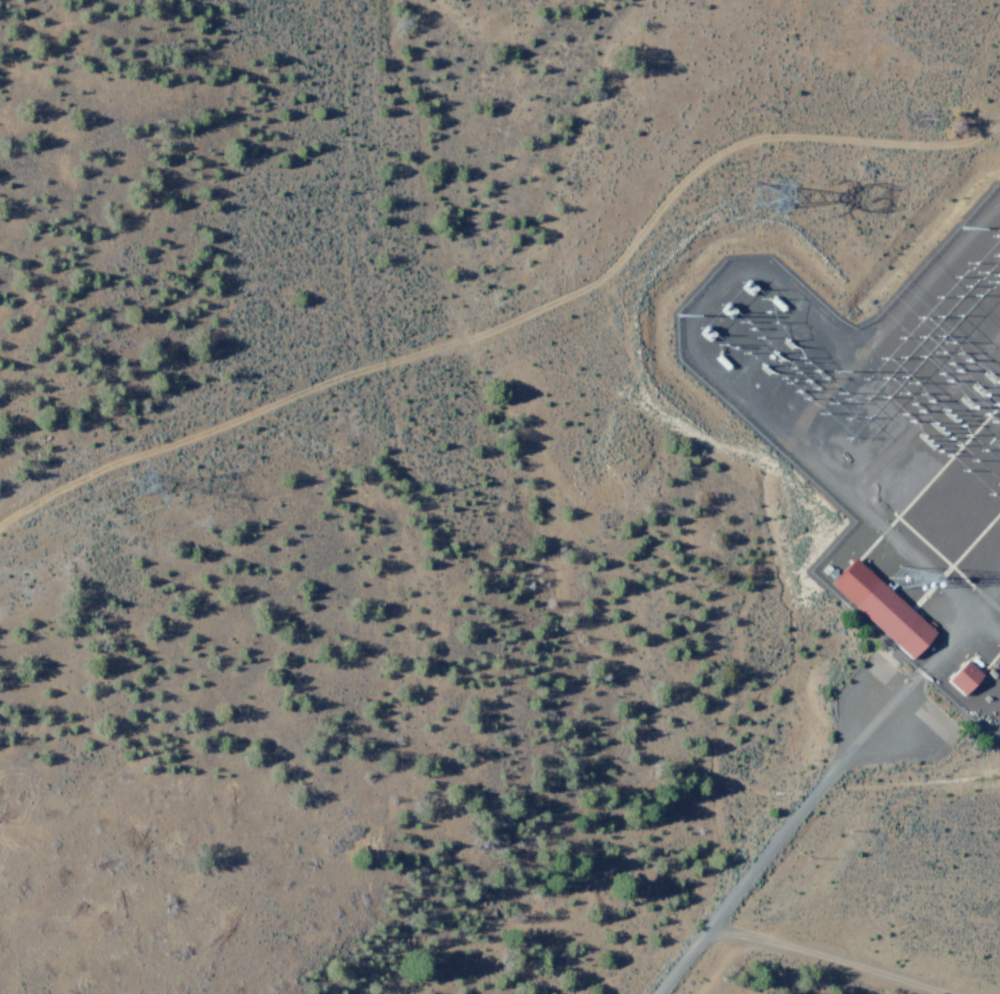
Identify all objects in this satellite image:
power tower: (776, 193)
power substation: (884, 438)
power tower: (154, 489)
building: (877, 604)
building: (961, 674)
road: (810, 798)
road: (777, 945)

